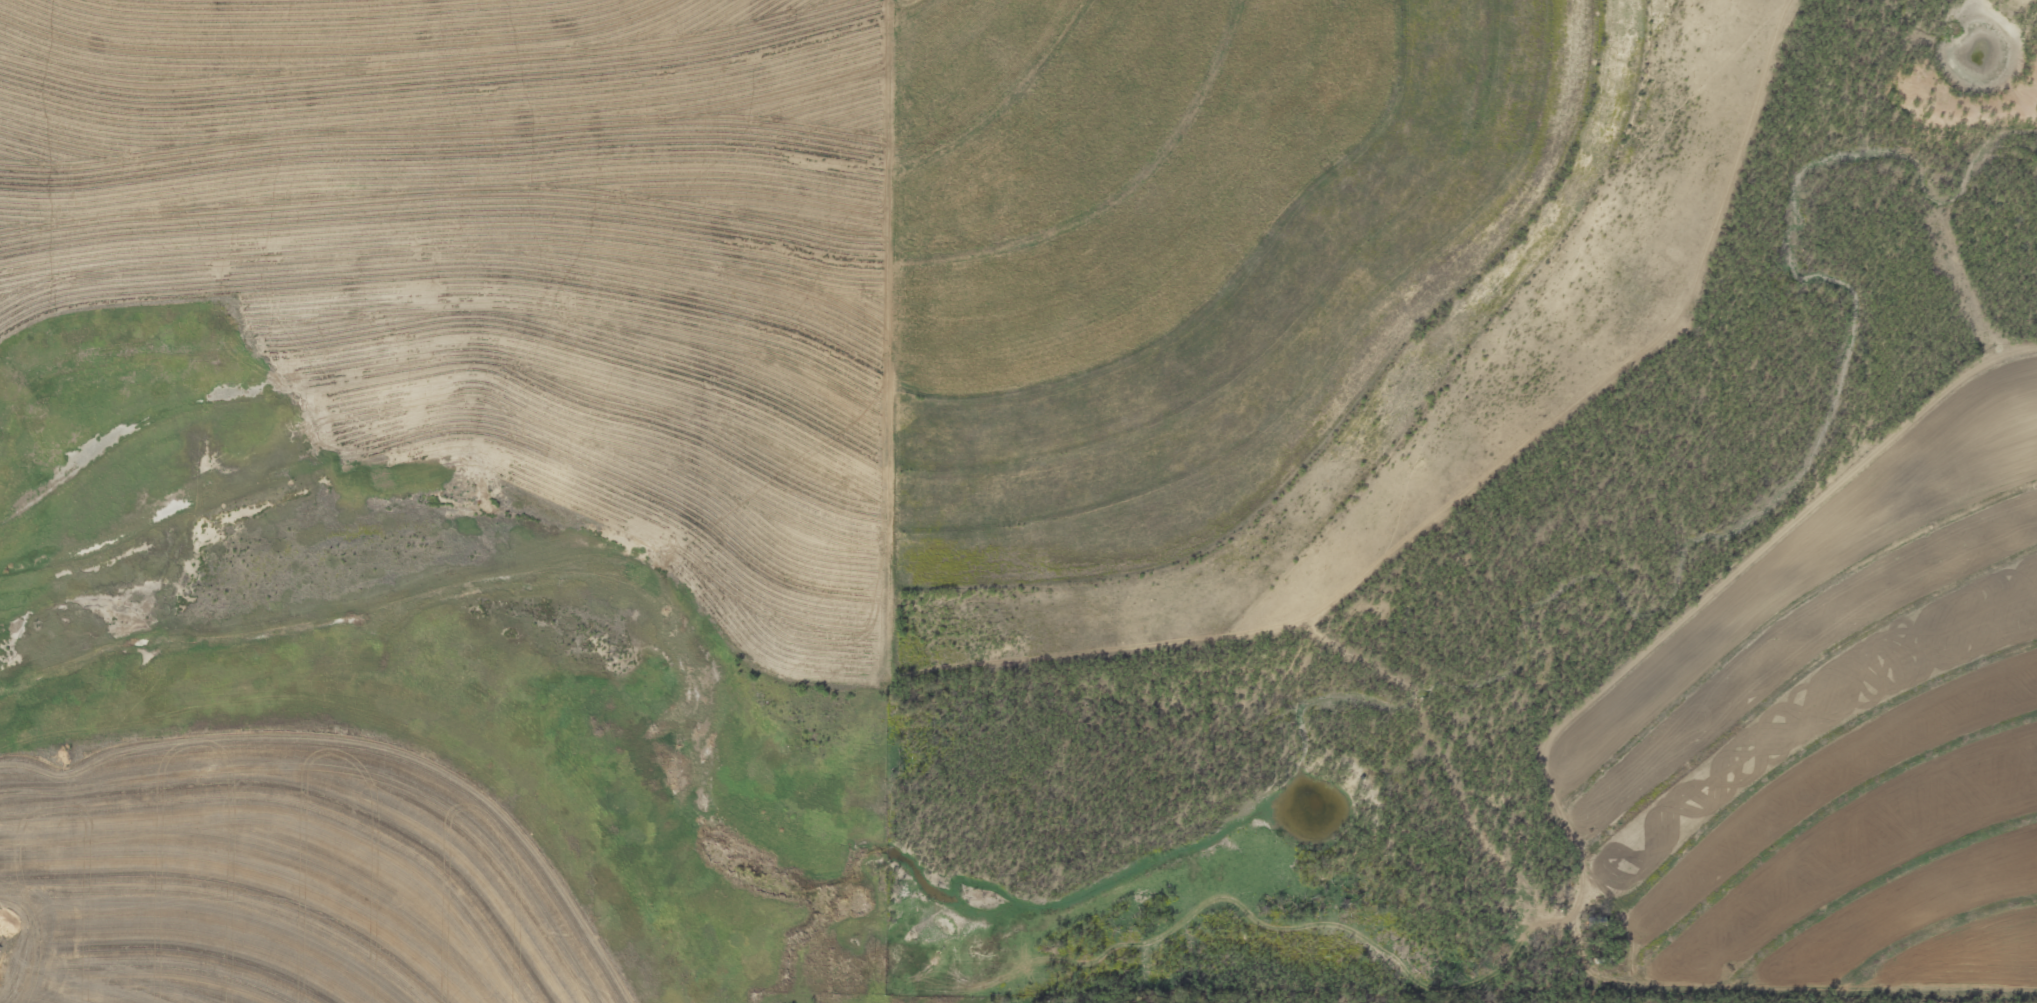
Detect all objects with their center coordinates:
road: (22, 990)

